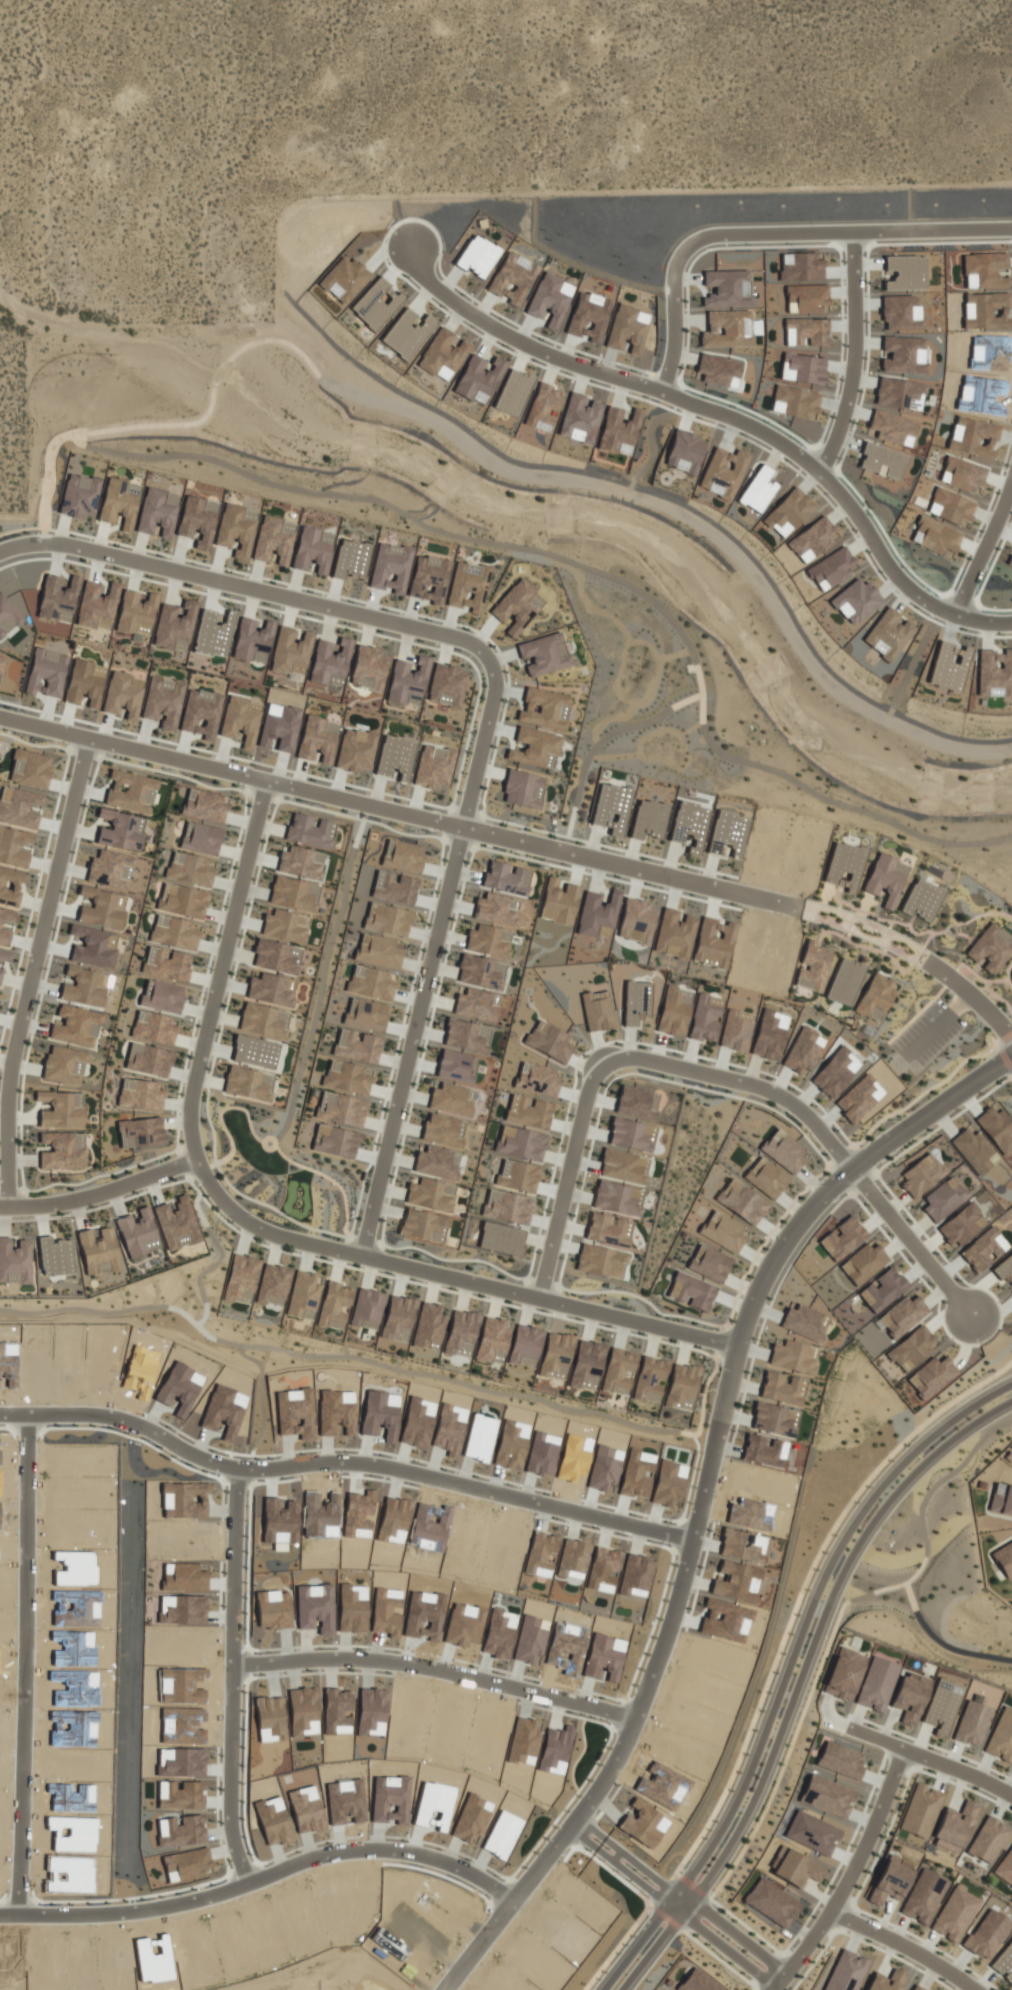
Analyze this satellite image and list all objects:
road: (771, 231)
road: (854, 354)
road: (729, 416)
building: (79, 495)
building: (119, 502)
building: (157, 511)
building: (197, 520)
building: (236, 529)
building: (273, 539)
building: (313, 549)
road: (983, 549)
building: (350, 559)
building: (390, 567)
building: (429, 579)
building: (468, 586)
road: (245, 587)
building: (57, 598)
building: (96, 605)
building: (517, 606)
building: (136, 613)
building: (8, 616)
building: (174, 625)
building: (213, 634)
building: (252, 640)
building: (290, 651)
building: (544, 653)
building: (1, 662)
building: (330, 662)
building: (368, 667)
building: (46, 673)
building: (407, 681)
building: (84, 683)
building: (447, 685)
building: (123, 695)
building: (163, 701)
building: (544, 708)
building: (201, 713)
building: (240, 720)
building: (317, 740)
building: (535, 747)
building: (354, 751)
building: (395, 756)
building: (430, 767)
building: (30, 769)
building: (524, 789)
building: (130, 791)
building: (205, 805)
building: (19, 807)
building: (611, 808)
building: (649, 819)
building: (689, 825)
building: (121, 830)
building: (309, 830)
building: (727, 833)
building: (201, 837)
road: (521, 843)
building: (14, 846)
building: (403, 855)
building: (300, 862)
building: (845, 866)
building: (108, 868)
building: (190, 868)
building: (506, 877)
building: (886, 878)
building: (11, 884)
building: (394, 887)
building: (293, 893)
building: (183, 900)
building: (922, 900)
building: (559, 902)
building: (101, 907)
building: (497, 909)
building: (597, 912)
building: (387, 919)
building: (636, 920)
building: (2, 924)
building: (285, 925)
building: (174, 932)
building: (674, 934)
building: (489, 940)
building: (713, 942)
building: (93, 947)
building: (991, 948)
building: (379, 951)
building: (5, 955)
road: (435, 955)
building: (277, 956)
building: (167, 964)
building: (813, 967)
building: (482, 971)
road: (36, 972)
building: (0, 974)
building: (845, 981)
building: (371, 982)
building: (83, 986)
building: (271, 989)
building: (162, 996)
building: (635, 1002)
building: (476, 1005)
building: (674, 1011)
building: (596, 1012)
building: (366, 1014)
building: (705, 1017)
building: (263, 1020)
building: (76, 1026)
building: (154, 1027)
building: (735, 1031)
building: (467, 1035)
building: (357, 1046)
building: (254, 1051)
building: (148, 1060)
building: (64, 1064)
building: (457, 1066)
building: (348, 1077)
building: (538, 1079)
building: (247, 1084)
building: (141, 1094)
building: (452, 1099)
building: (341, 1108)
building: (61, 1109)
building: (528, 1111)
building: (996, 1128)
building: (444, 1130)
building: (140, 1132)
road: (825, 1135)
building: (335, 1141)
building: (521, 1143)
building: (62, 1150)
building: (975, 1150)
building: (784, 1152)
building: (437, 1162)
building: (623, 1166)
park: (283, 1171)
building: (518, 1175)
building: (922, 1175)
road: (570, 1176)
building: (766, 1178)
road: (100, 1195)
building: (431, 1195)
building: (617, 1198)
building: (943, 1200)
building: (741, 1201)
building: (508, 1206)
building: (177, 1223)
building: (423, 1225)
building: (960, 1225)
building: (608, 1229)
road: (267, 1230)
building: (723, 1231)
building: (138, 1233)
building: (843, 1238)
building: (501, 1239)
building: (99, 1251)
building: (55, 1256)
building: (600, 1260)
building: (15, 1261)
building: (710, 1263)
building: (863, 1263)
building: (1004, 1269)
building: (241, 1279)
building: (273, 1284)
building: (882, 1289)
building: (691, 1291)
building: (335, 1305)
building: (367, 1308)
building: (903, 1316)
building: (398, 1318)
building: (802, 1322)
building: (429, 1326)
building: (461, 1333)
building: (493, 1340)
building: (525, 1345)
building: (912, 1348)
building: (556, 1355)
building: (794, 1357)
building: (587, 1365)
building: (619, 1371)
building: (931, 1377)
building: (650, 1379)
building: (682, 1386)
building: (783, 1388)
building: (773, 1420)
road: (348, 1462)
building: (1001, 1499)
road: (707, 1500)
building: (1004, 1558)
road: (810, 1609)
road: (39, 1665)
road: (450, 1670)
building: (844, 1673)
road: (246, 1676)
road: (806, 1683)
building: (876, 1684)
building: (910, 1696)
building: (942, 1705)
building: (972, 1723)
building: (1001, 1737)
building: (841, 1760)
road: (935, 1762)
building: (828, 1795)
building: (921, 1810)
building: (954, 1827)
building: (988, 1839)
road: (636, 1853)
road: (626, 1867)
building: (1005, 1867)
building: (799, 1868)
road: (854, 1876)
building: (890, 1880)
road: (269, 1881)
road: (677, 1896)
building: (923, 1896)
building: (771, 1902)
building: (954, 1914)
road: (738, 1930)
building: (986, 1934)
road: (725, 1945)
road: (635, 1946)
road: (907, 1946)
building: (1004, 1962)
building: (846, 1972)
building: (886, 1981)
building: (917, 1987)

